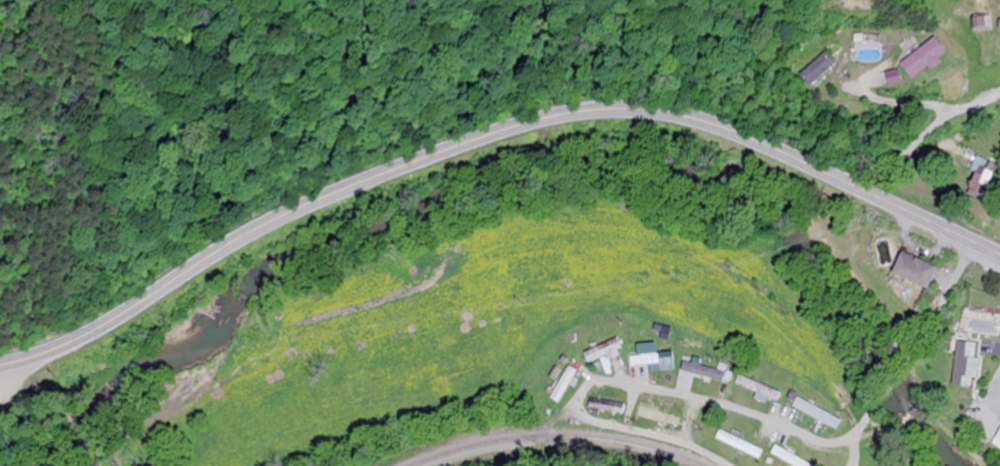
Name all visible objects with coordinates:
building: (996, 24)
building: (918, 58)
building: (813, 70)
road: (489, 134)
river: (522, 164)
building: (977, 173)
building: (908, 271)
road: (945, 291)
building: (598, 353)
building: (651, 362)
building: (963, 365)
building: (700, 373)
road: (895, 377)
building: (559, 386)
building: (754, 389)
building: (603, 407)
road: (726, 408)
building: (813, 414)
building: (658, 419)
building: (997, 436)
road: (855, 437)
railway: (555, 439)
building: (751, 452)
building: (784, 458)

